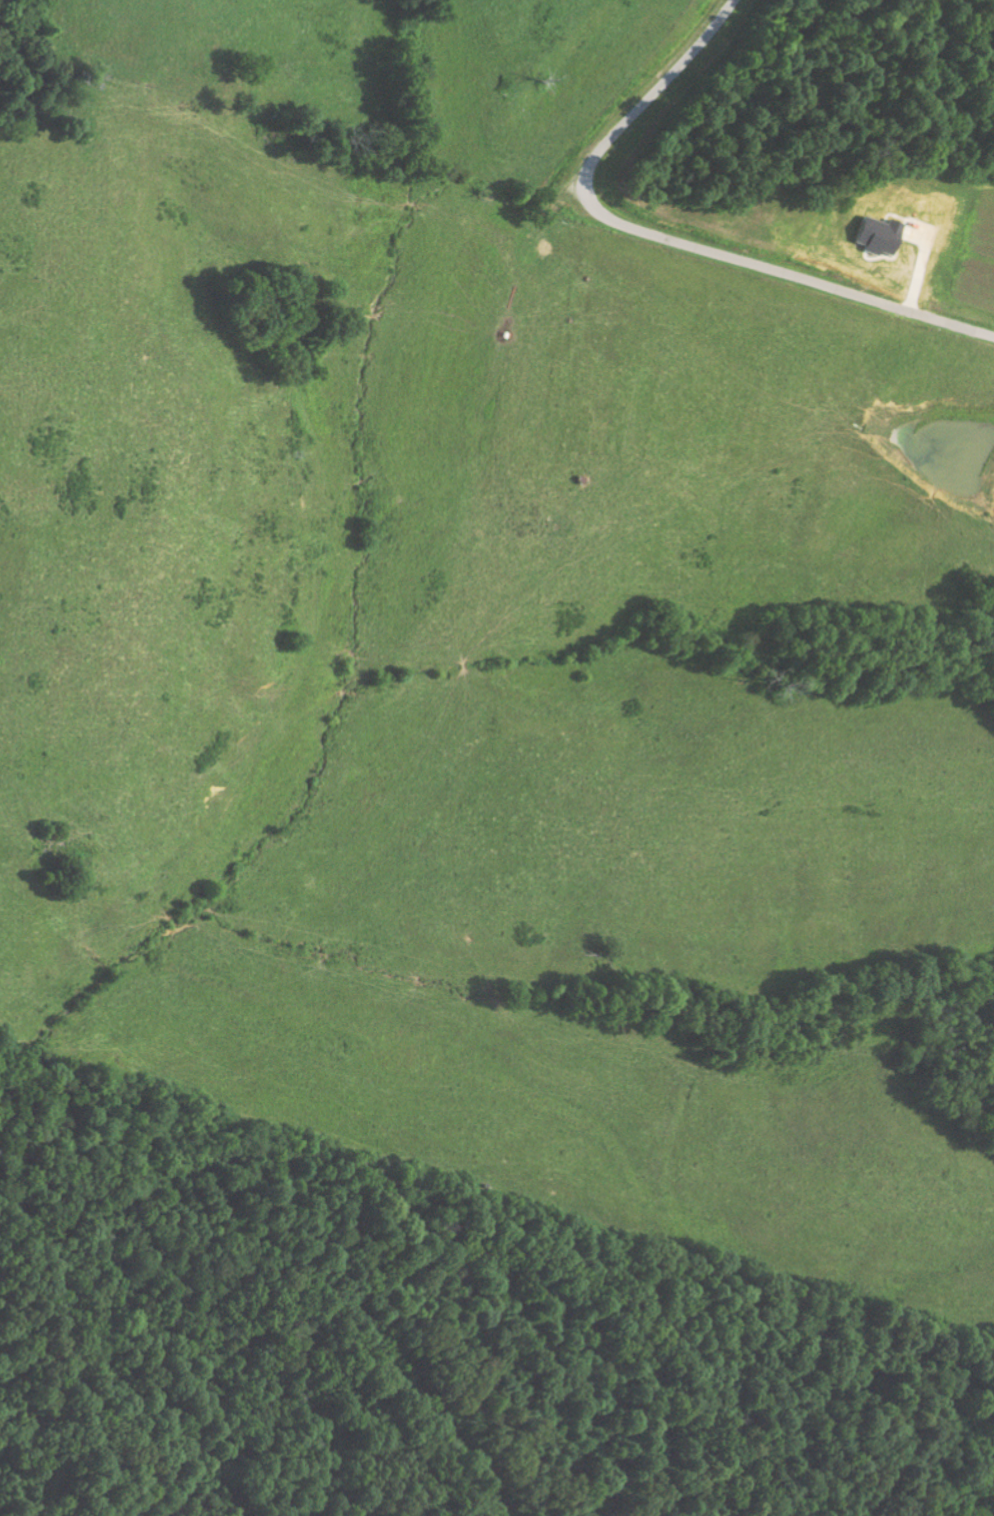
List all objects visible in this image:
building: (880, 235)
road: (666, 238)

